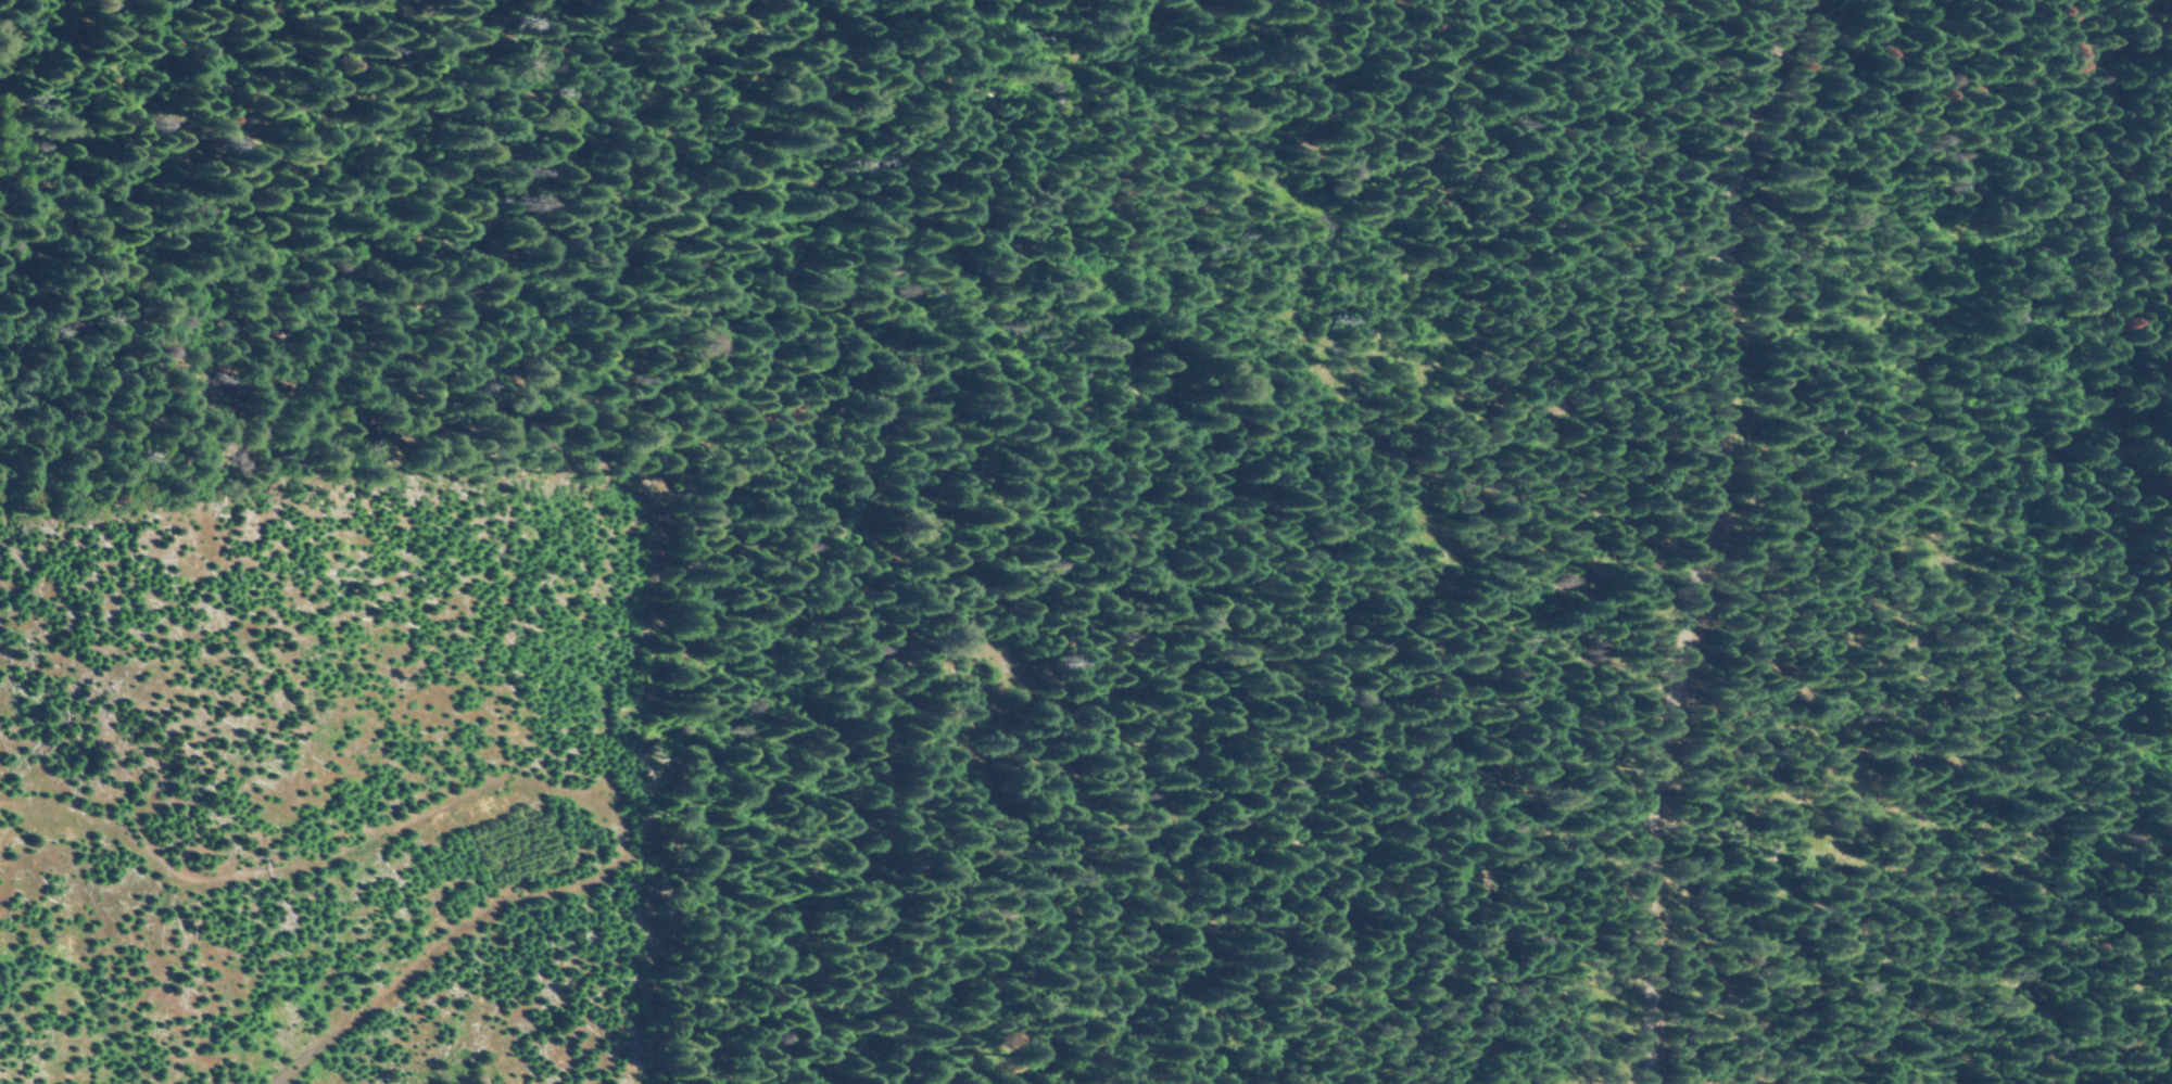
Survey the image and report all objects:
road: (1699, 537)

